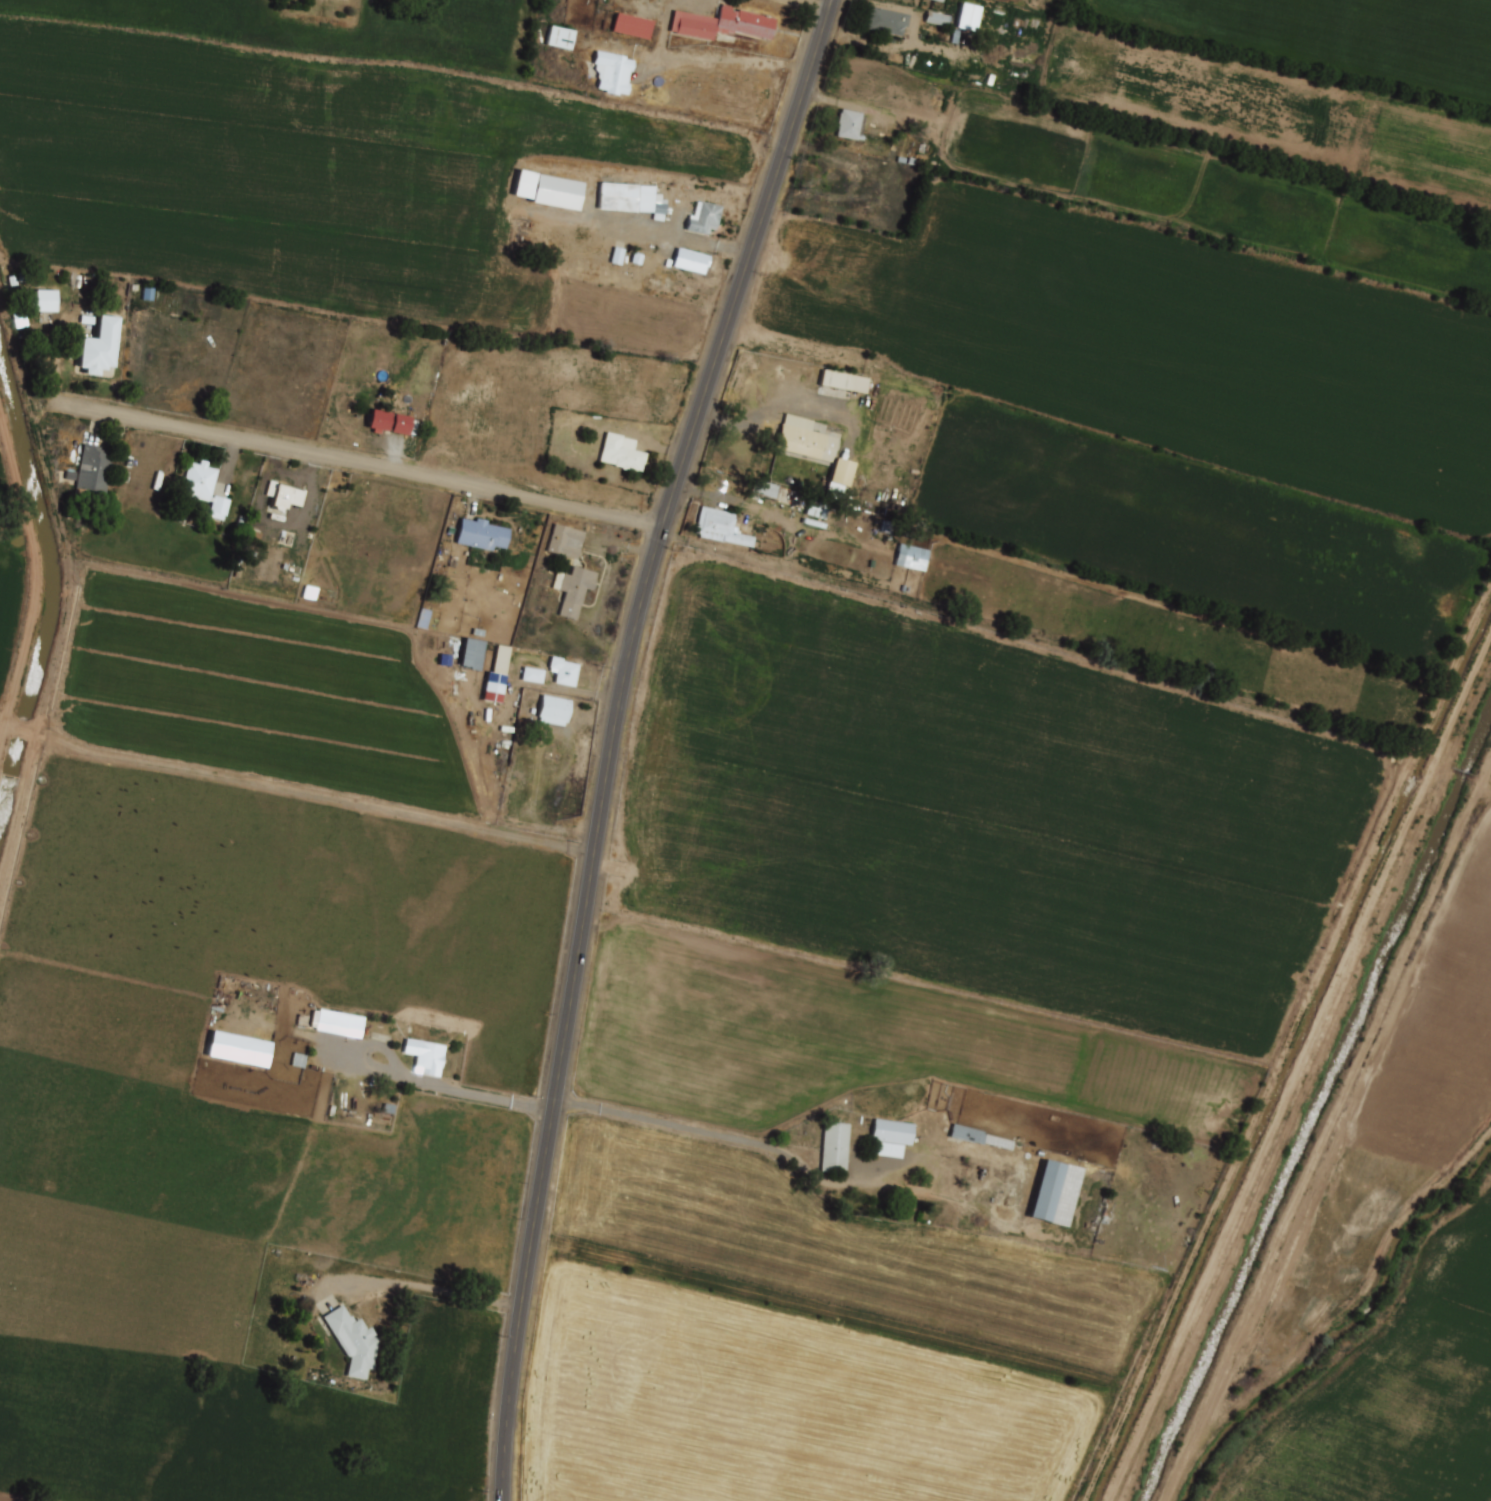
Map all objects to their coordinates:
building: (939, 0)
road: (815, 3)
building: (966, 15)
building: (935, 17)
building: (887, 22)
building: (631, 24)
building: (724, 25)
building: (559, 36)
building: (612, 73)
building: (851, 125)
building: (876, 148)
building: (869, 164)
building: (837, 177)
building: (547, 189)
building: (629, 198)
building: (704, 219)
building: (691, 261)
building: (44, 299)
building: (96, 349)
building: (834, 379)
building: (388, 423)
building: (804, 439)
building: (621, 453)
road: (362, 464)
building: (93, 470)
building: (763, 488)
building: (204, 489)
building: (283, 496)
building: (802, 502)
building: (720, 527)
building: (482, 535)
building: (253, 539)
building: (566, 542)
building: (909, 556)
building: (573, 590)
building: (308, 594)
building: (471, 653)
building: (565, 670)
building: (497, 672)
building: (532, 673)
building: (555, 708)
road: (612, 738)
building: (336, 1022)
building: (238, 1048)
building: (425, 1056)
building: (890, 1135)
building: (980, 1136)
building: (835, 1147)
building: (1054, 1191)
building: (353, 1342)

